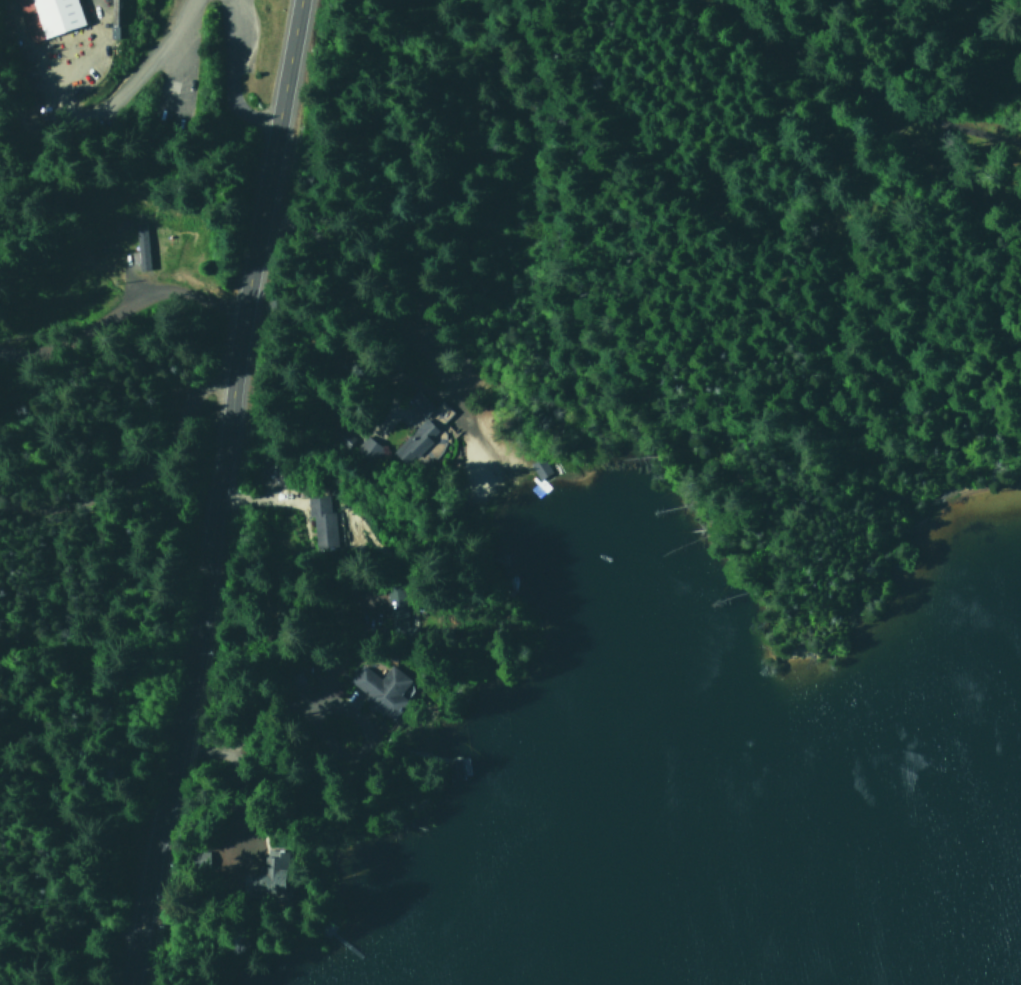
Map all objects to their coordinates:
building: (46, 16)
road: (231, 76)
road: (259, 227)
road: (687, 228)
building: (139, 239)
road: (956, 248)
building: (417, 404)
building: (440, 410)
building: (416, 437)
building: (365, 447)
building: (538, 468)
building: (321, 523)
building: (380, 690)
road: (173, 719)
building: (269, 876)

